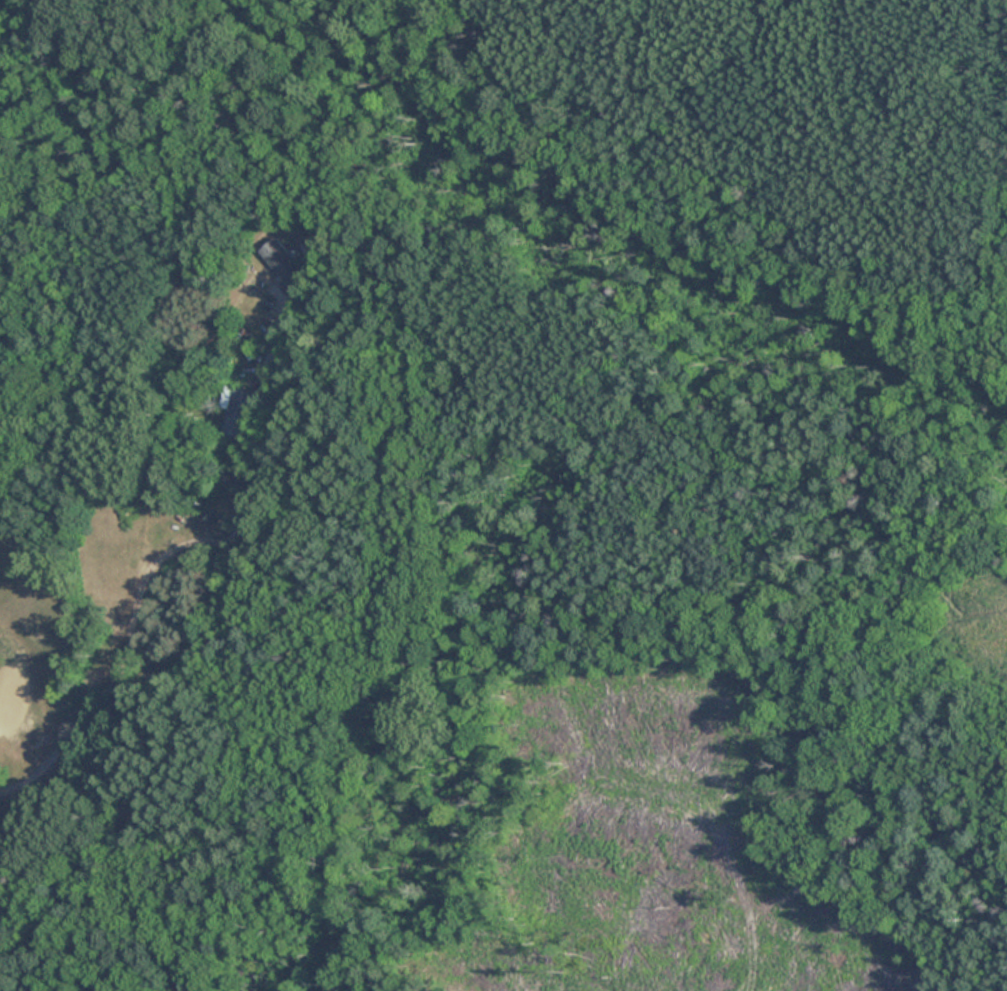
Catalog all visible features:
building: (284, 261)
building: (240, 412)
park: (637, 452)

